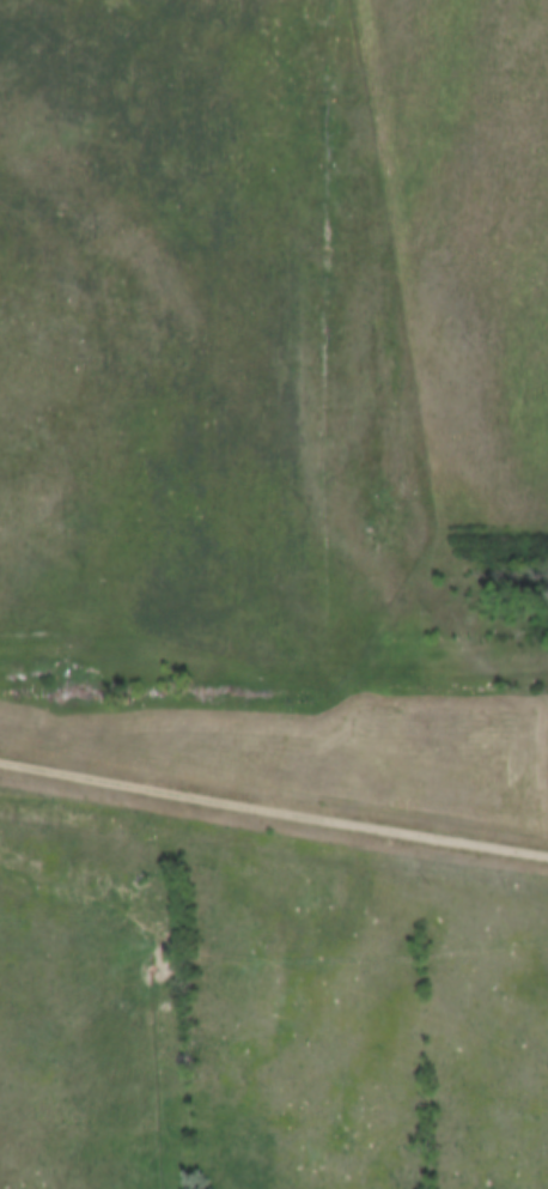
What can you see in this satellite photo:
road: (273, 811)

